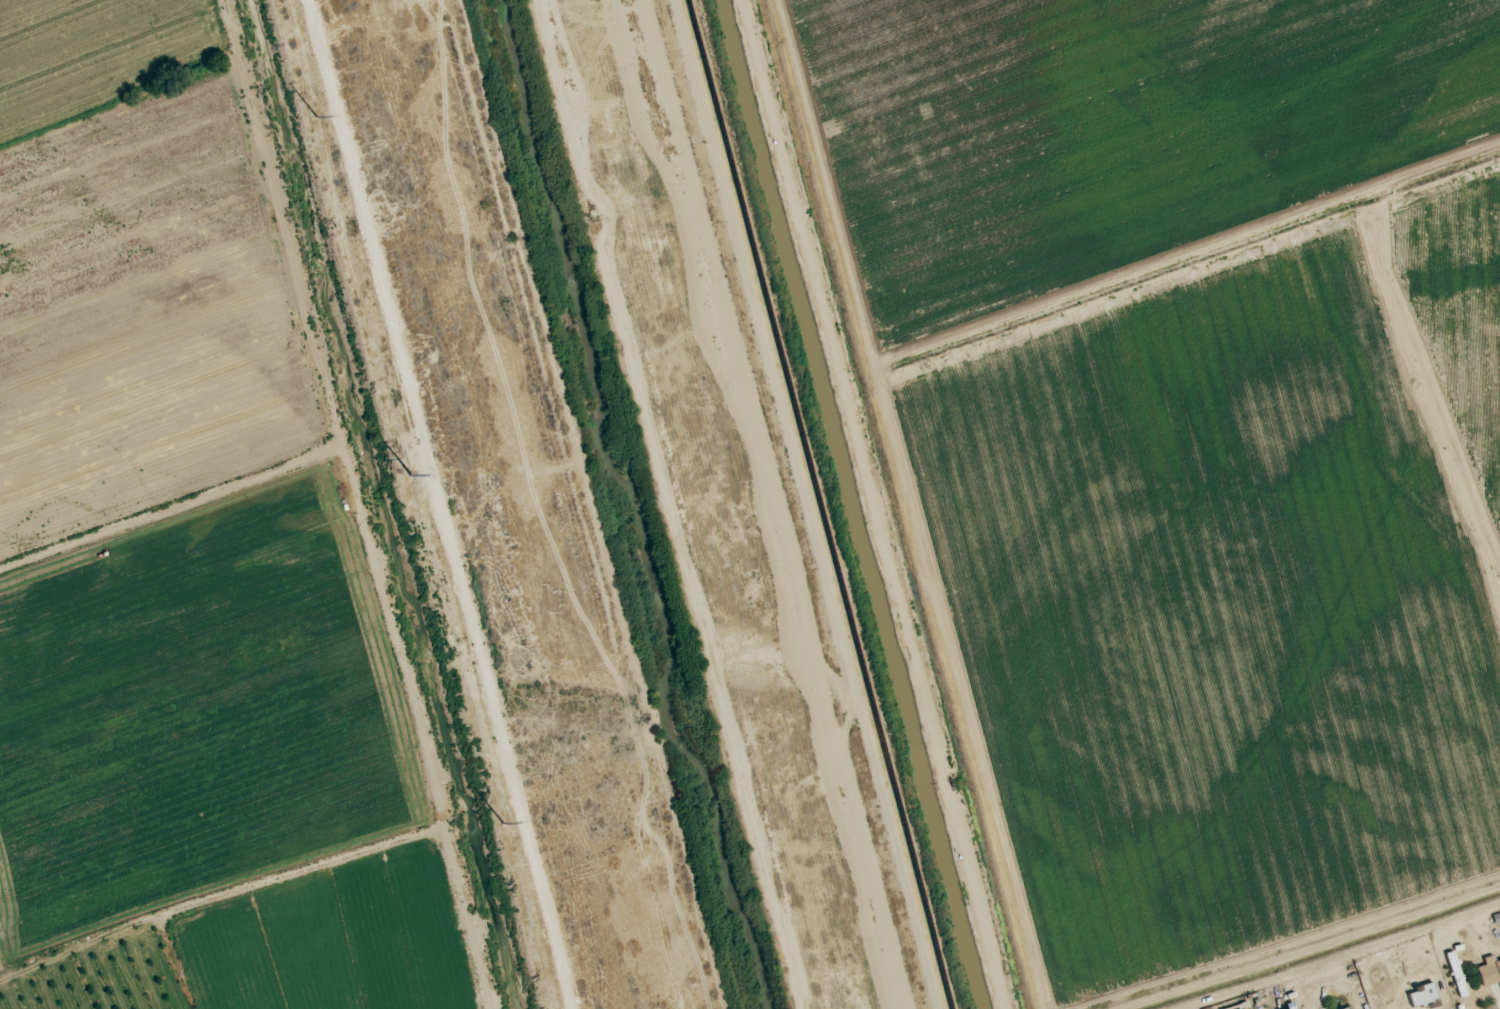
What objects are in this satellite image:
power tower: (310, 119)
power tower: (407, 480)
road: (795, 504)
river: (626, 505)
power tower: (494, 824)
building: (1490, 972)
building: (1457, 973)
building: (1428, 992)
building: (1379, 995)
building: (1347, 1007)

